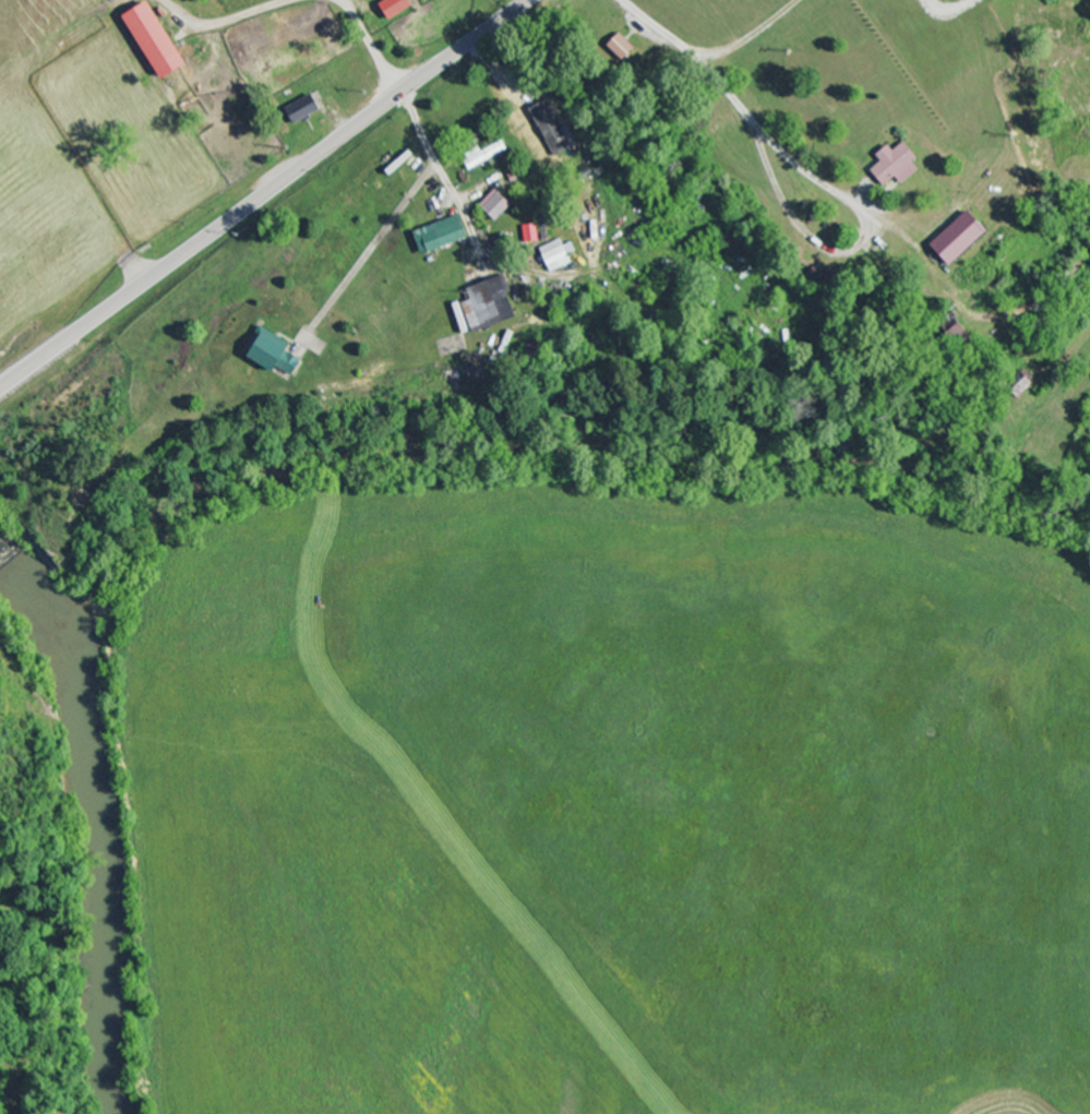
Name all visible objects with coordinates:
building: (400, 8)
building: (161, 41)
building: (307, 109)
road: (752, 116)
building: (555, 129)
building: (899, 166)
road: (264, 194)
building: (500, 206)
building: (536, 233)
building: (444, 236)
building: (965, 238)
building: (562, 255)
building: (492, 304)
building: (280, 357)
river: (99, 819)

